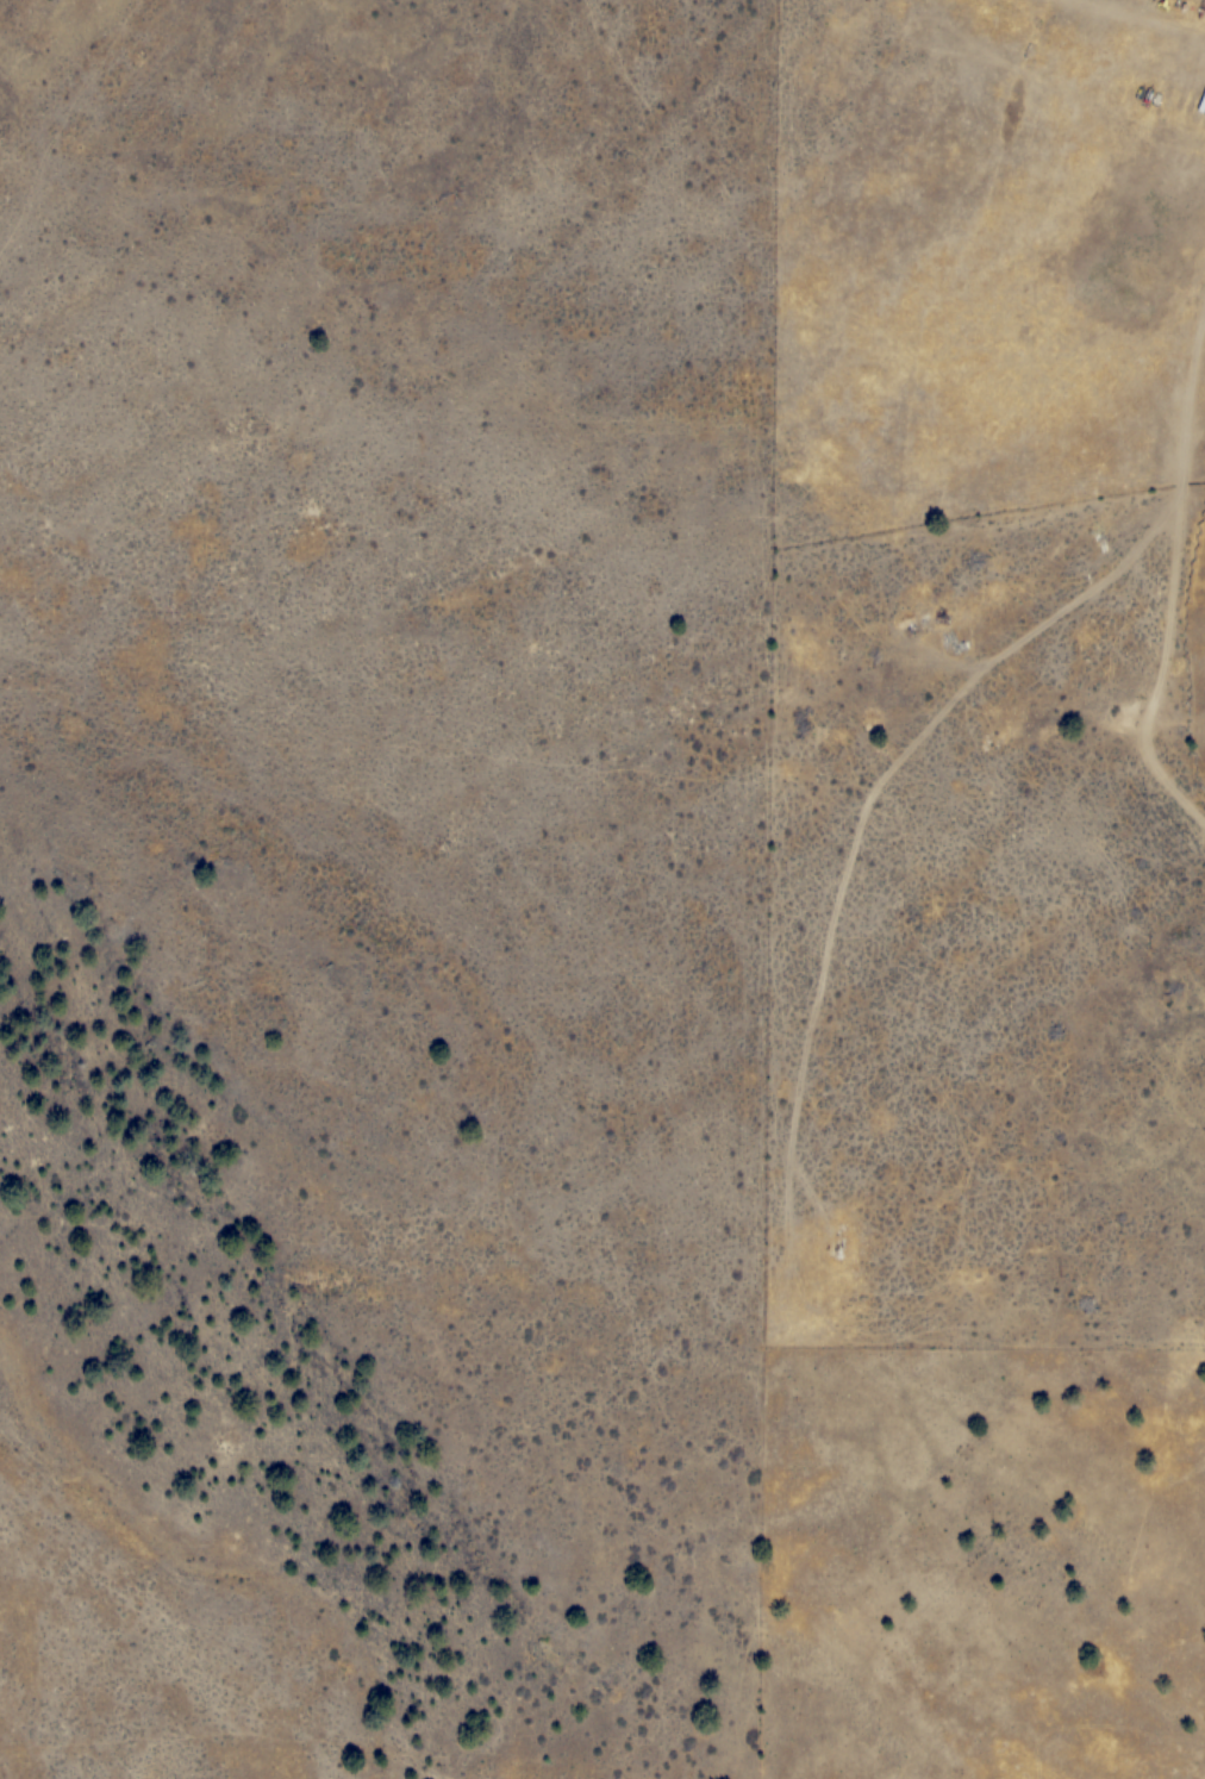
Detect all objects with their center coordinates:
road: (1161, 5)
road: (1187, 413)
road: (1155, 678)
road: (950, 697)

